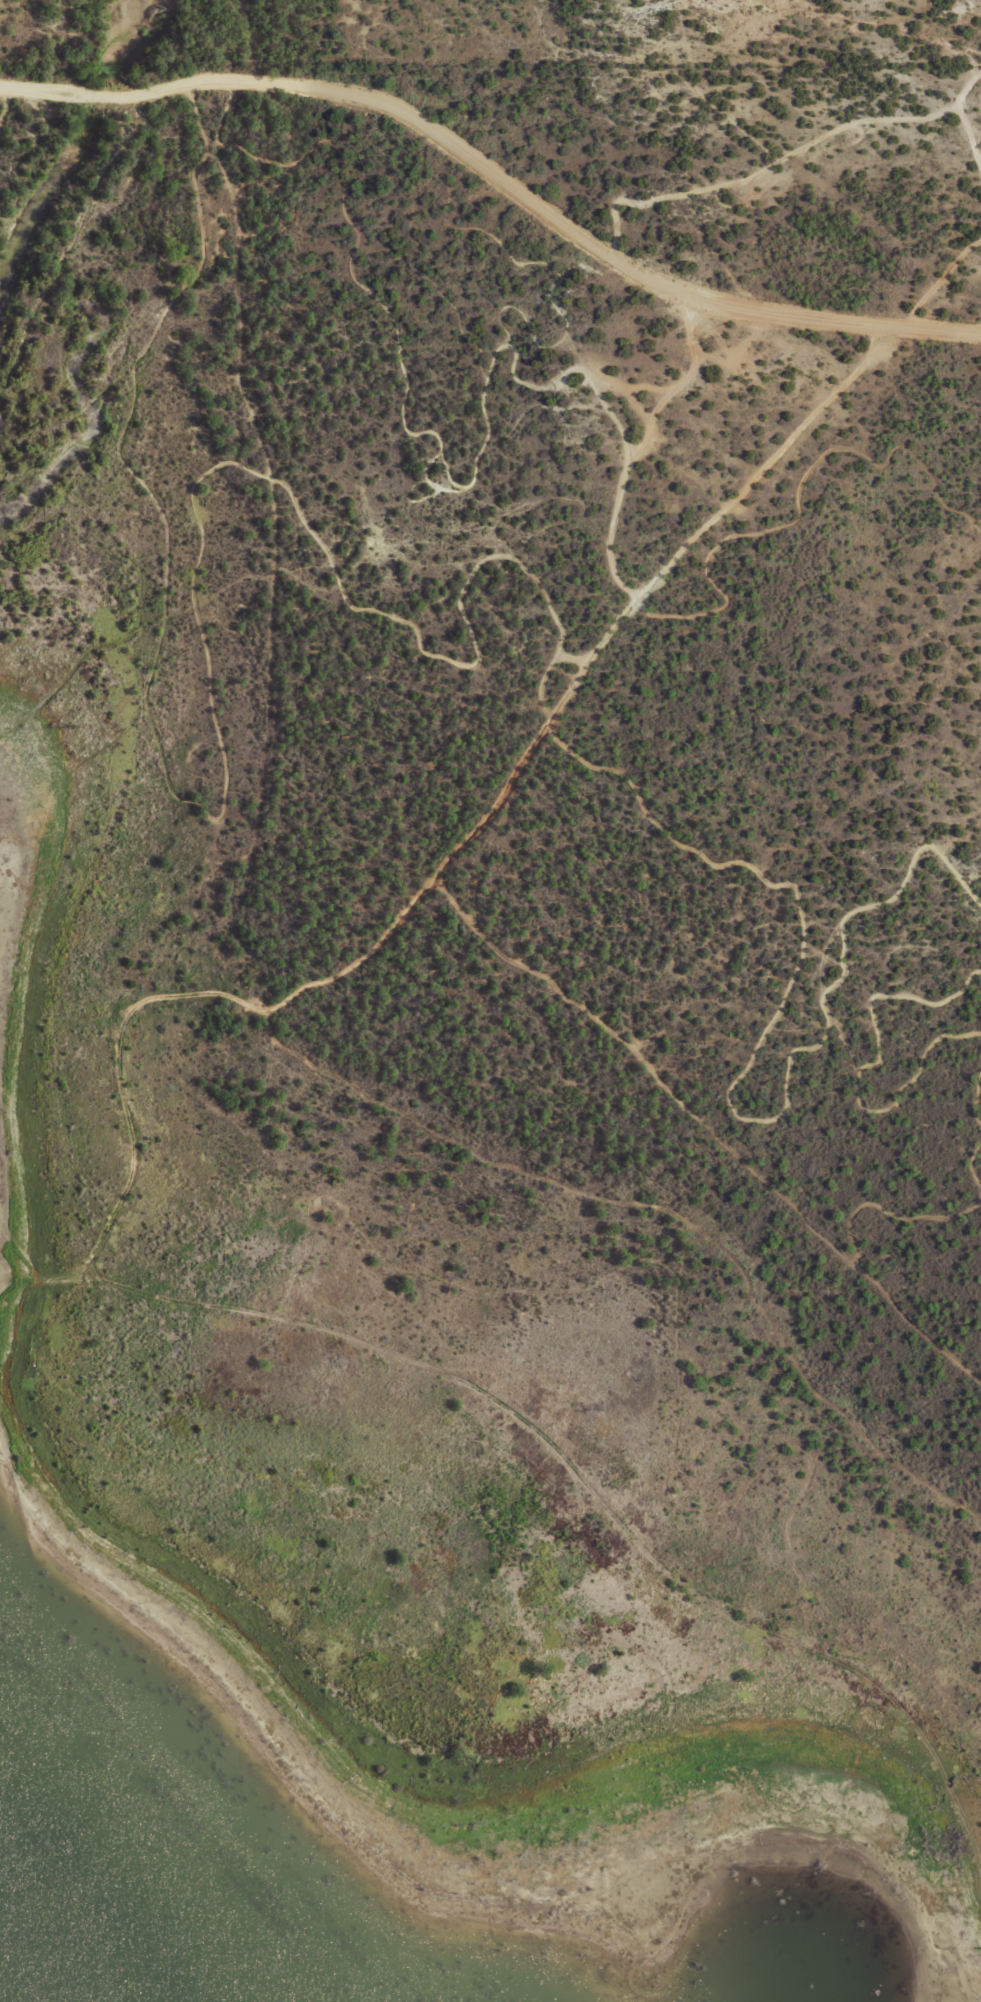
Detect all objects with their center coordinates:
road: (495, 177)

